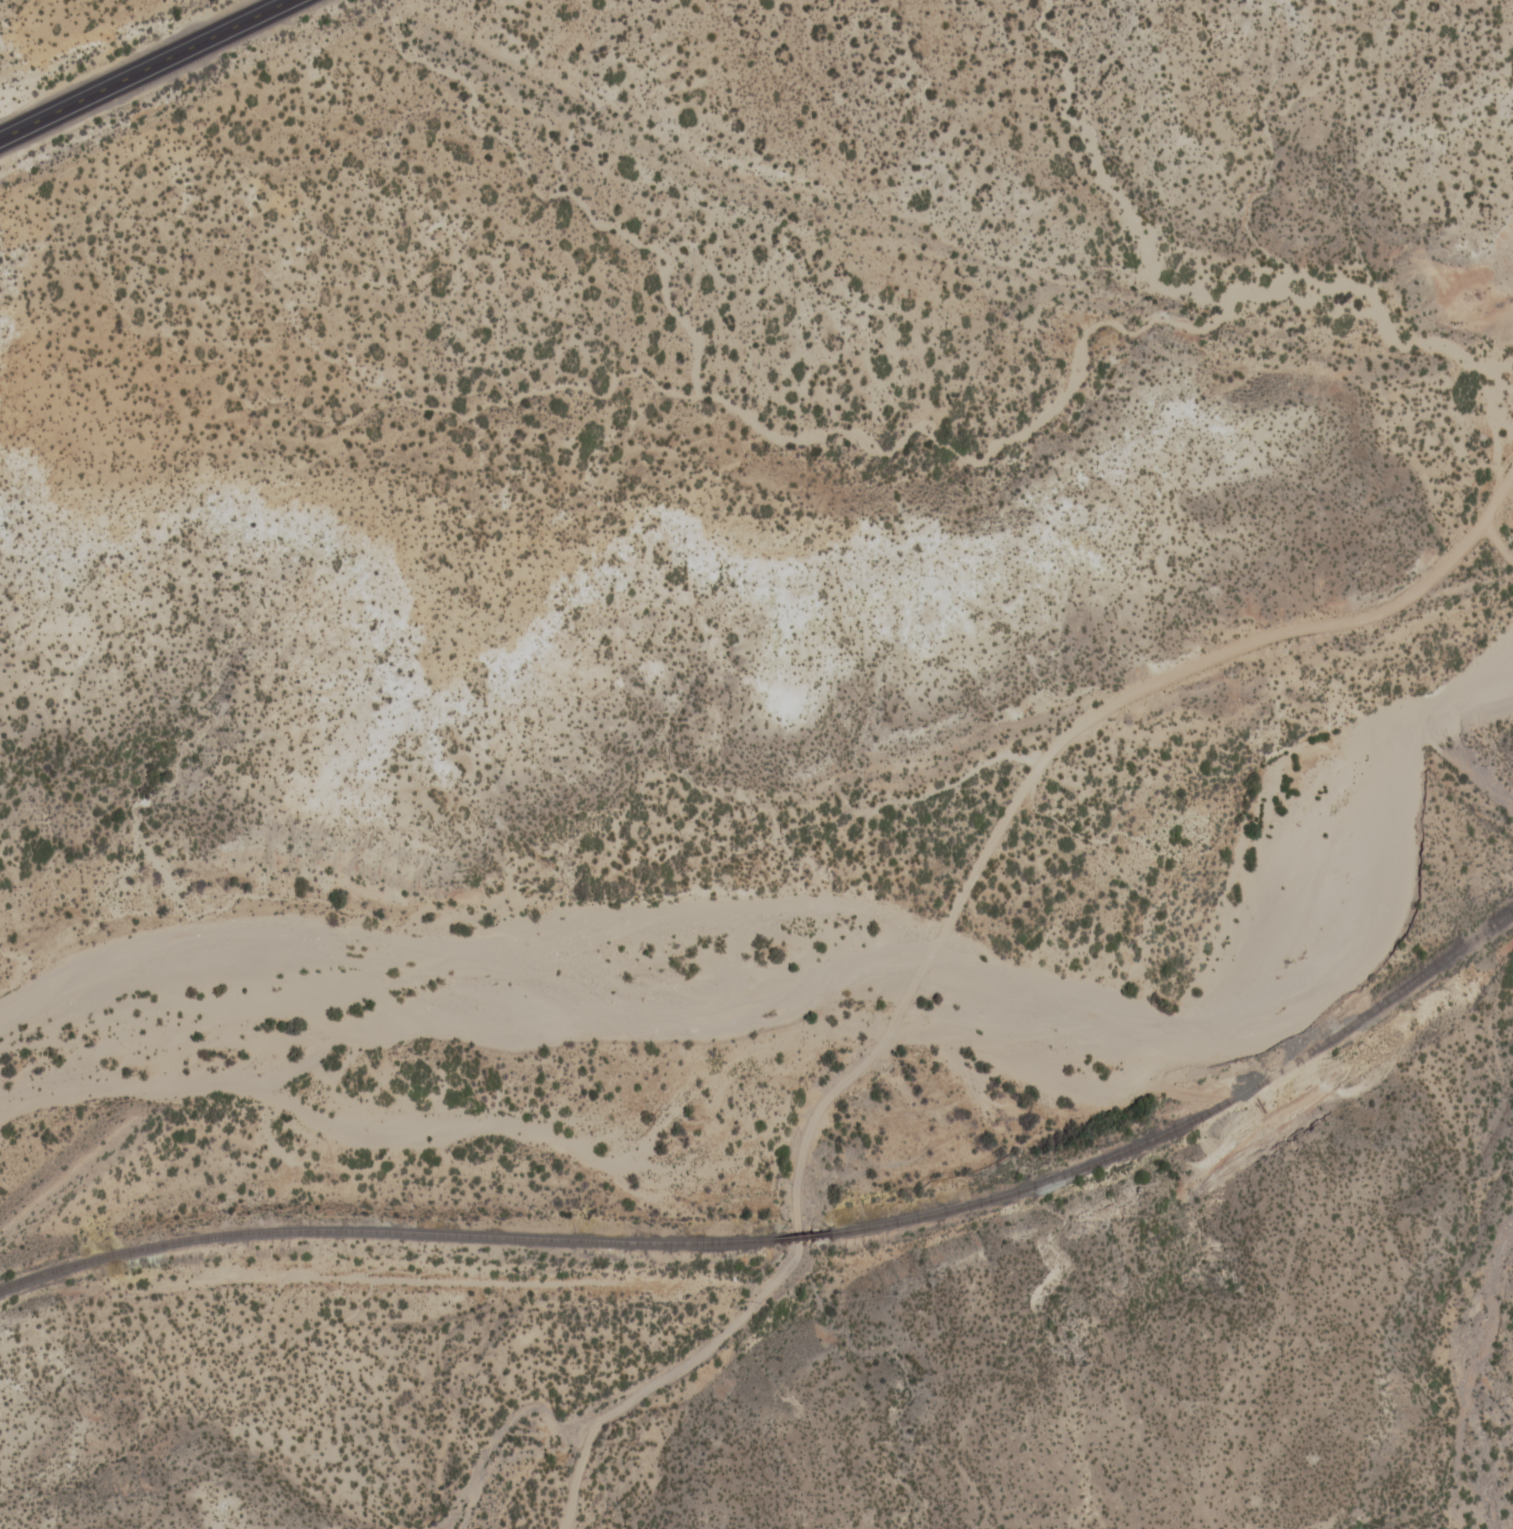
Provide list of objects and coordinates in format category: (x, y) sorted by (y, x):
road: (139, 67)
road: (1196, 665)
river: (864, 958)
road: (912, 983)
railway: (1190, 1119)
railway: (379, 1231)
railway: (796, 1237)
road: (752, 1303)

